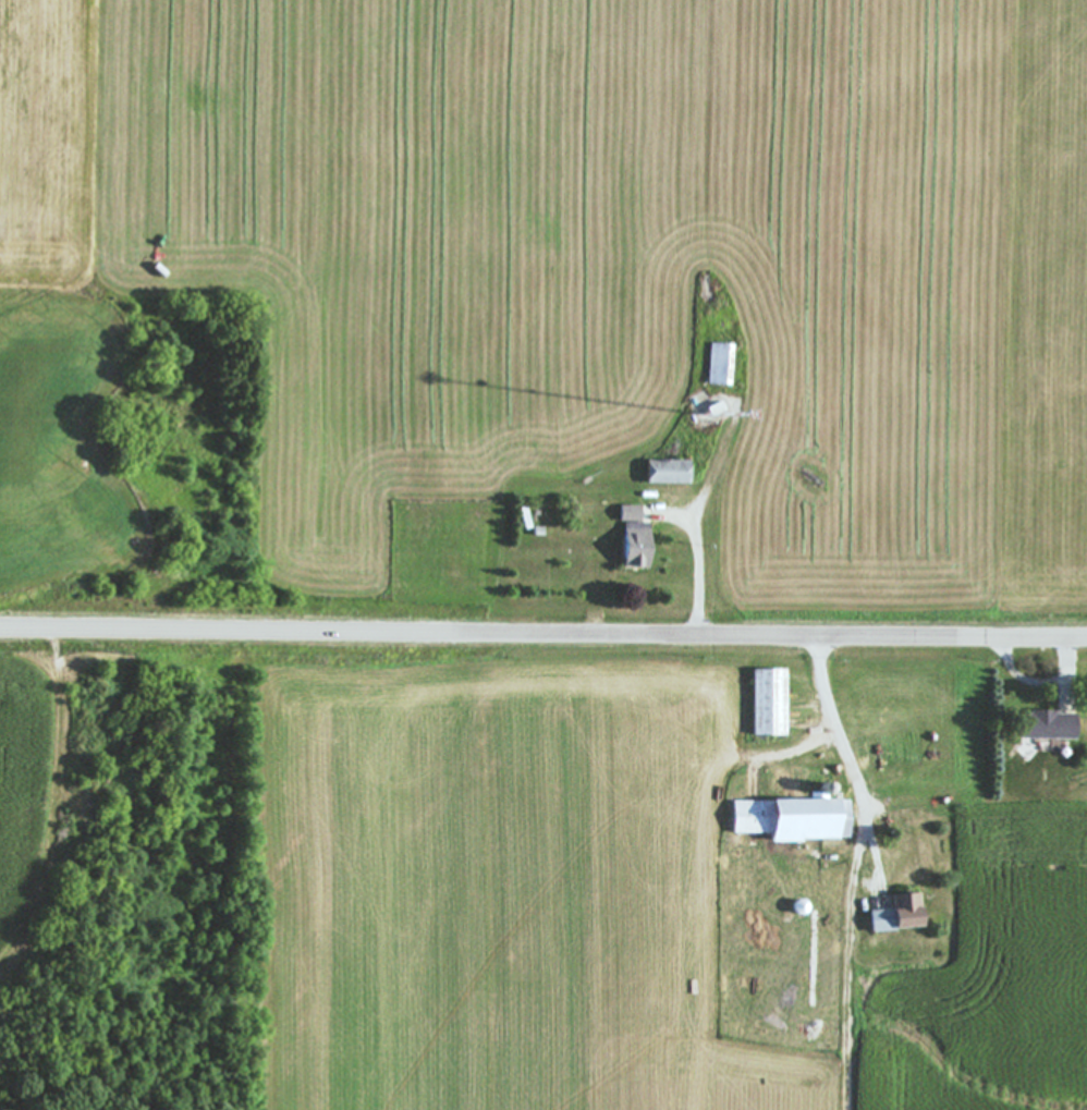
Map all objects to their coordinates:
building: (717, 365)
building: (663, 472)
building: (632, 537)
road: (703, 576)
road: (543, 635)
road: (1043, 681)
building: (765, 703)
road: (838, 725)
building: (1043, 727)
building: (790, 819)
building: (893, 914)

